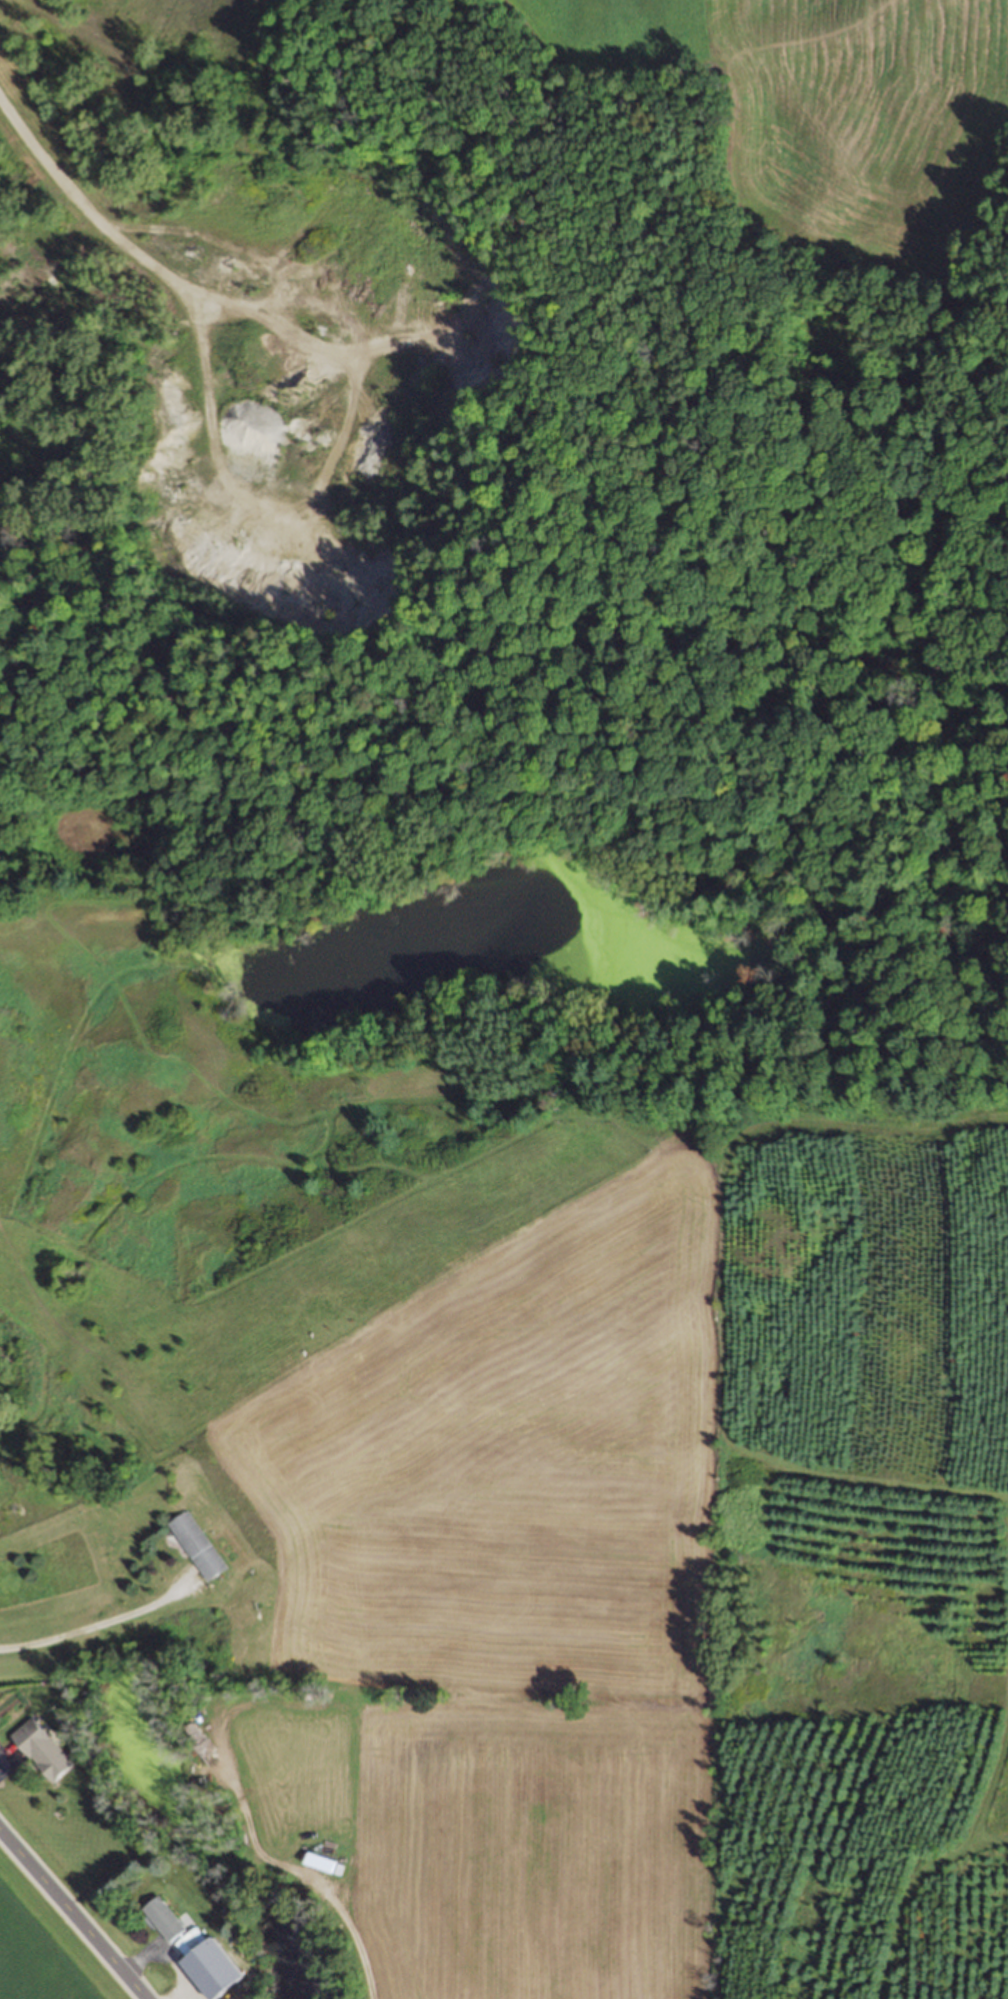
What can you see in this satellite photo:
road: (82, 209)
quarry: (300, 399)
building: (194, 1545)
road: (90, 1627)
building: (40, 1750)
road: (2, 1763)
road: (72, 1914)
building: (162, 1919)
building: (191, 1943)
road: (137, 1961)

